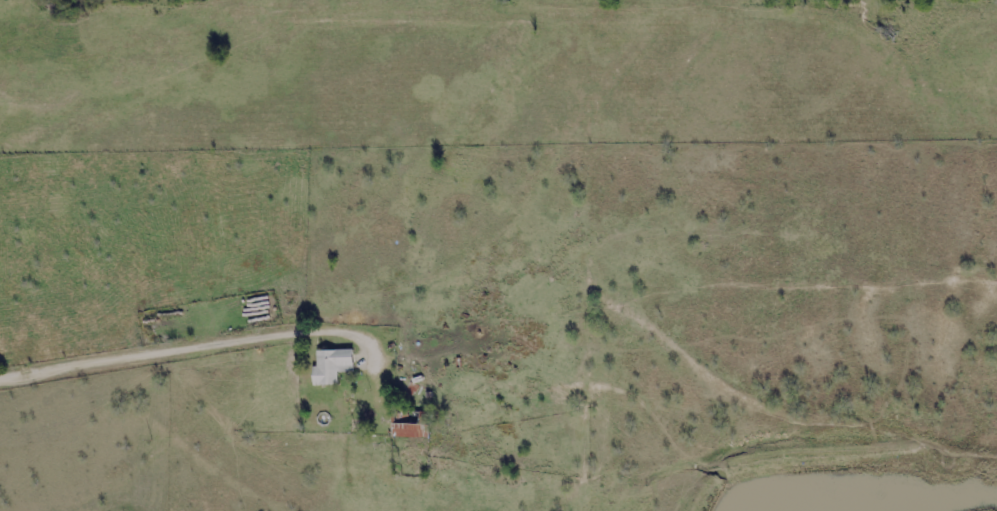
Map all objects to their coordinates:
road: (181, 339)
building: (329, 366)
building: (406, 426)

